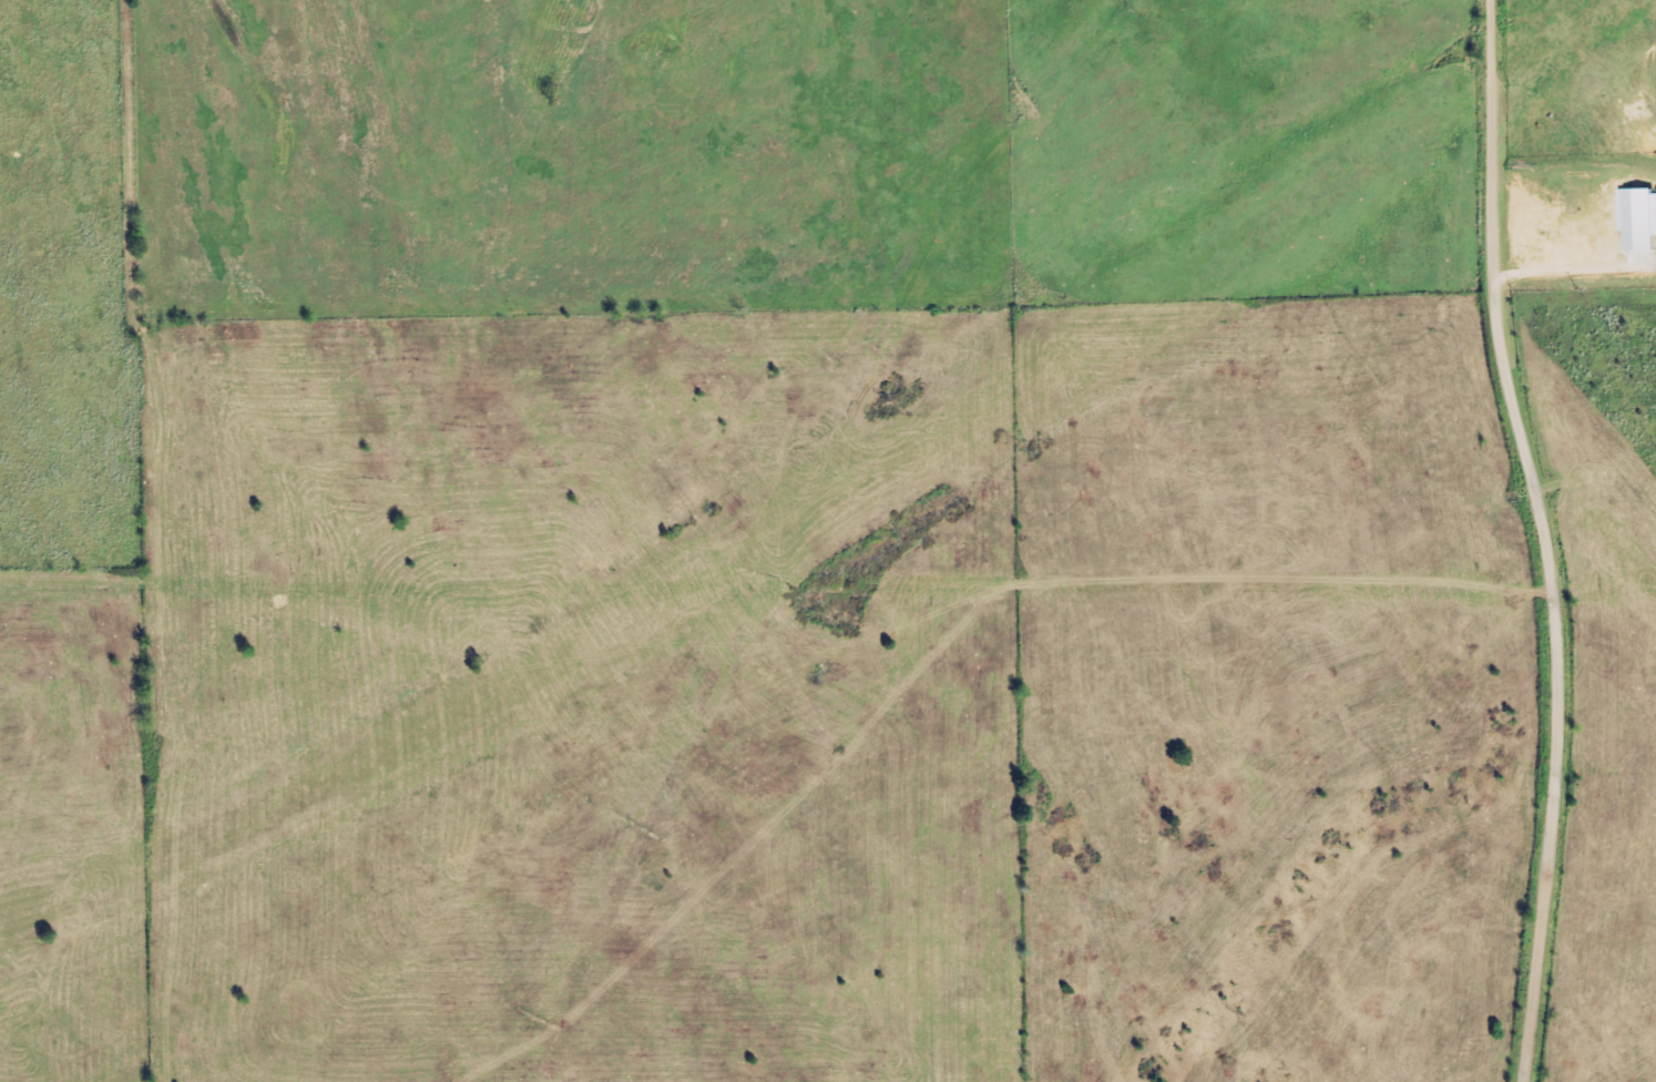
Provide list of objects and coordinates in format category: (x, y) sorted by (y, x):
road: (1542, 539)

